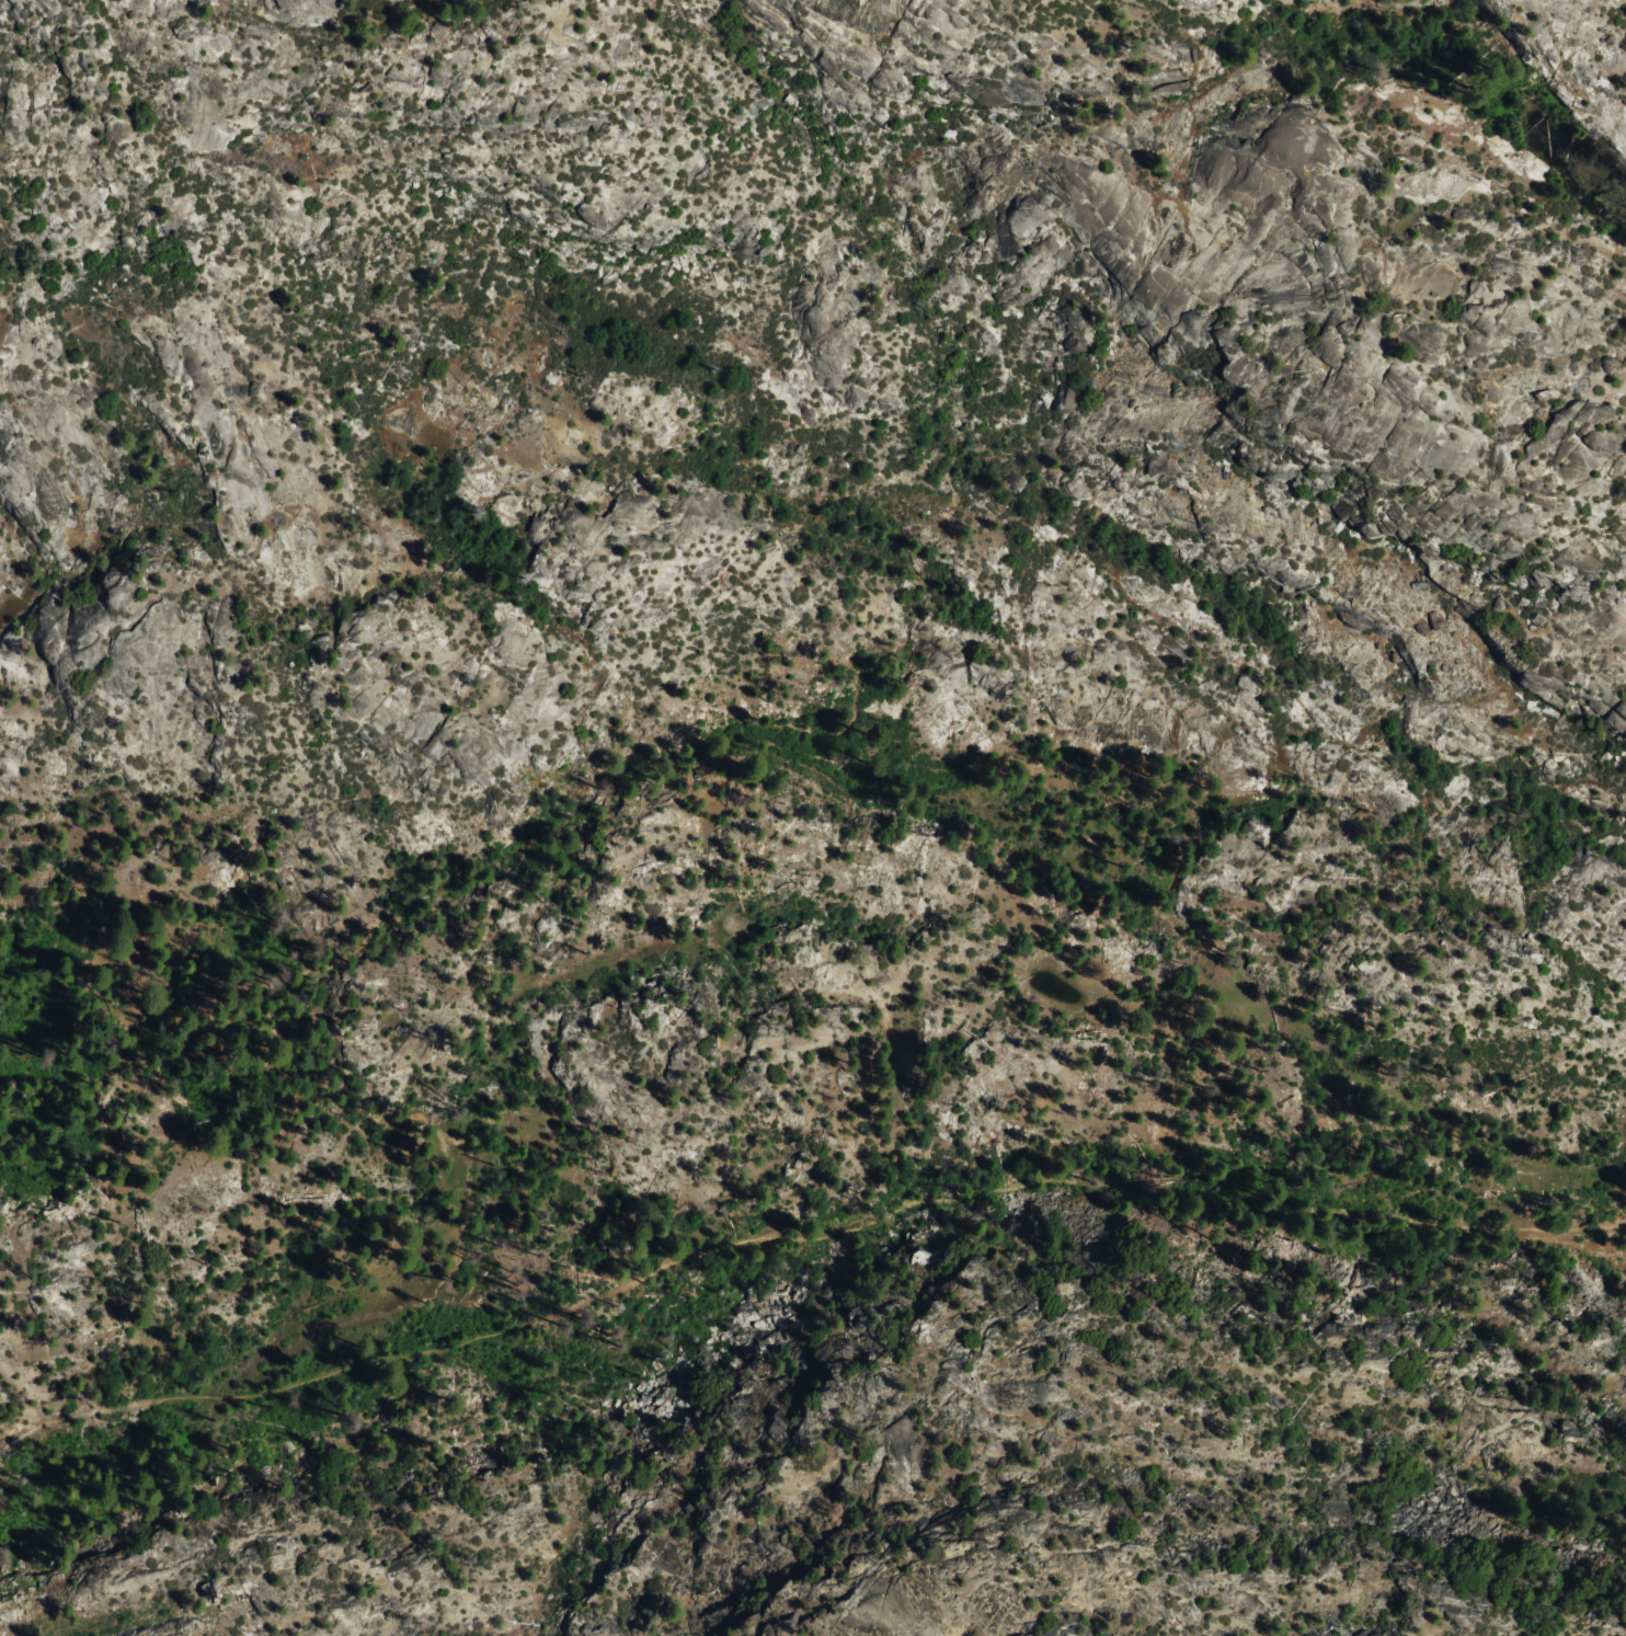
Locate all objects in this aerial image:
road: (799, 1237)

